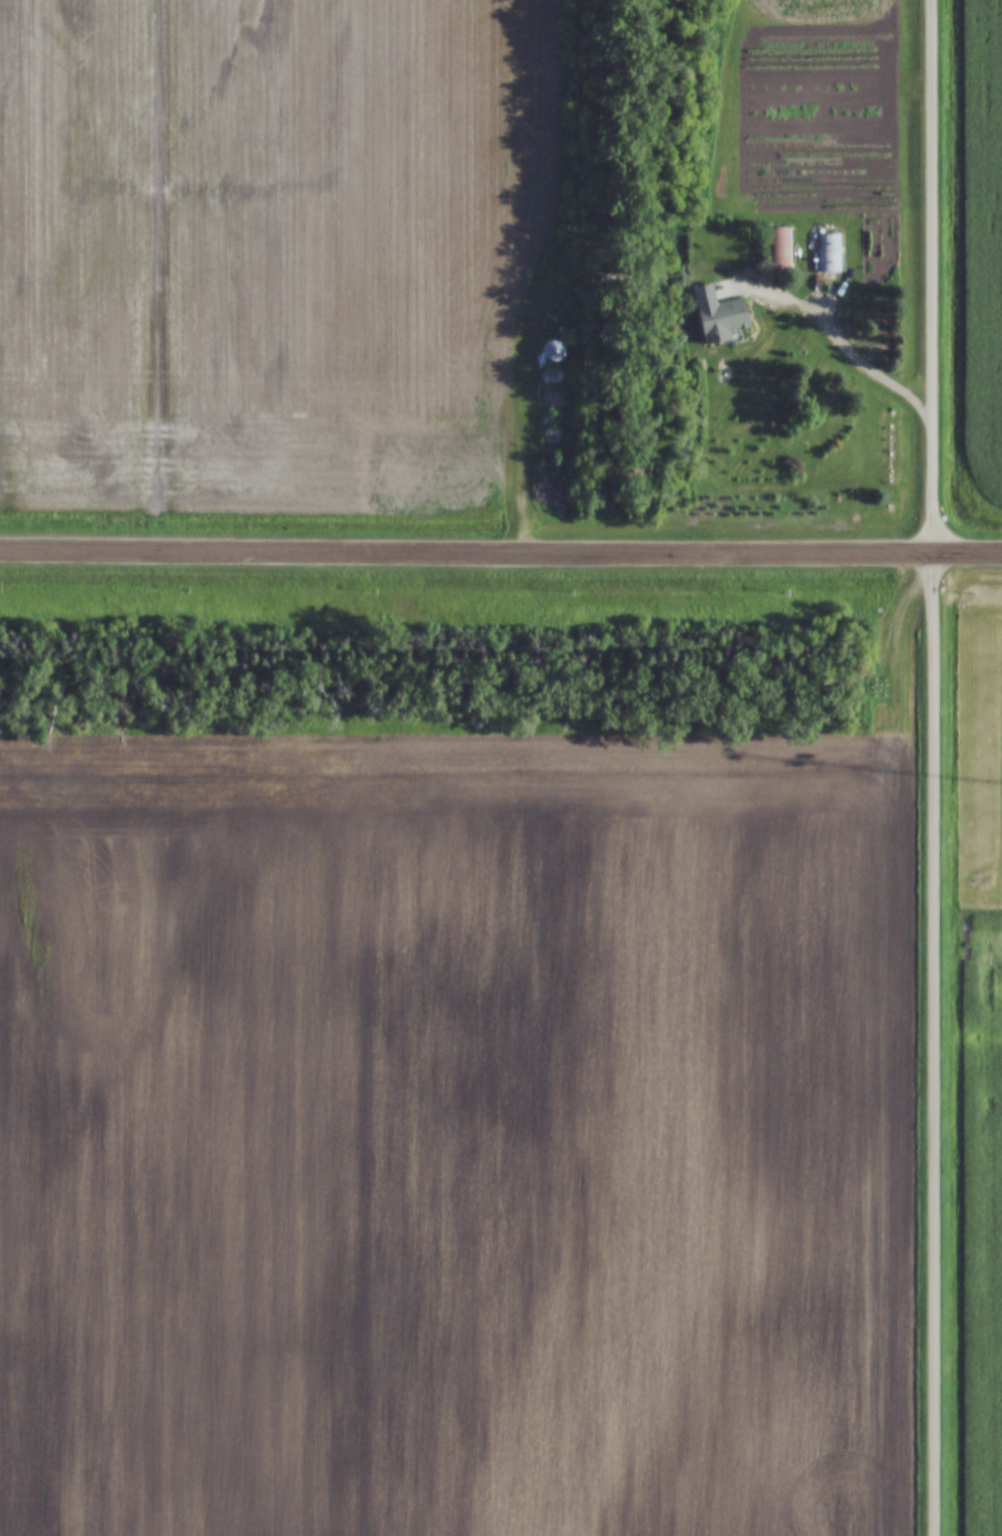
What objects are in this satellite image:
building: (772, 249)
building: (824, 254)
building: (709, 315)
building: (548, 351)
silo: (548, 351)
road: (856, 360)
road: (510, 391)
road: (500, 551)
road: (931, 767)

